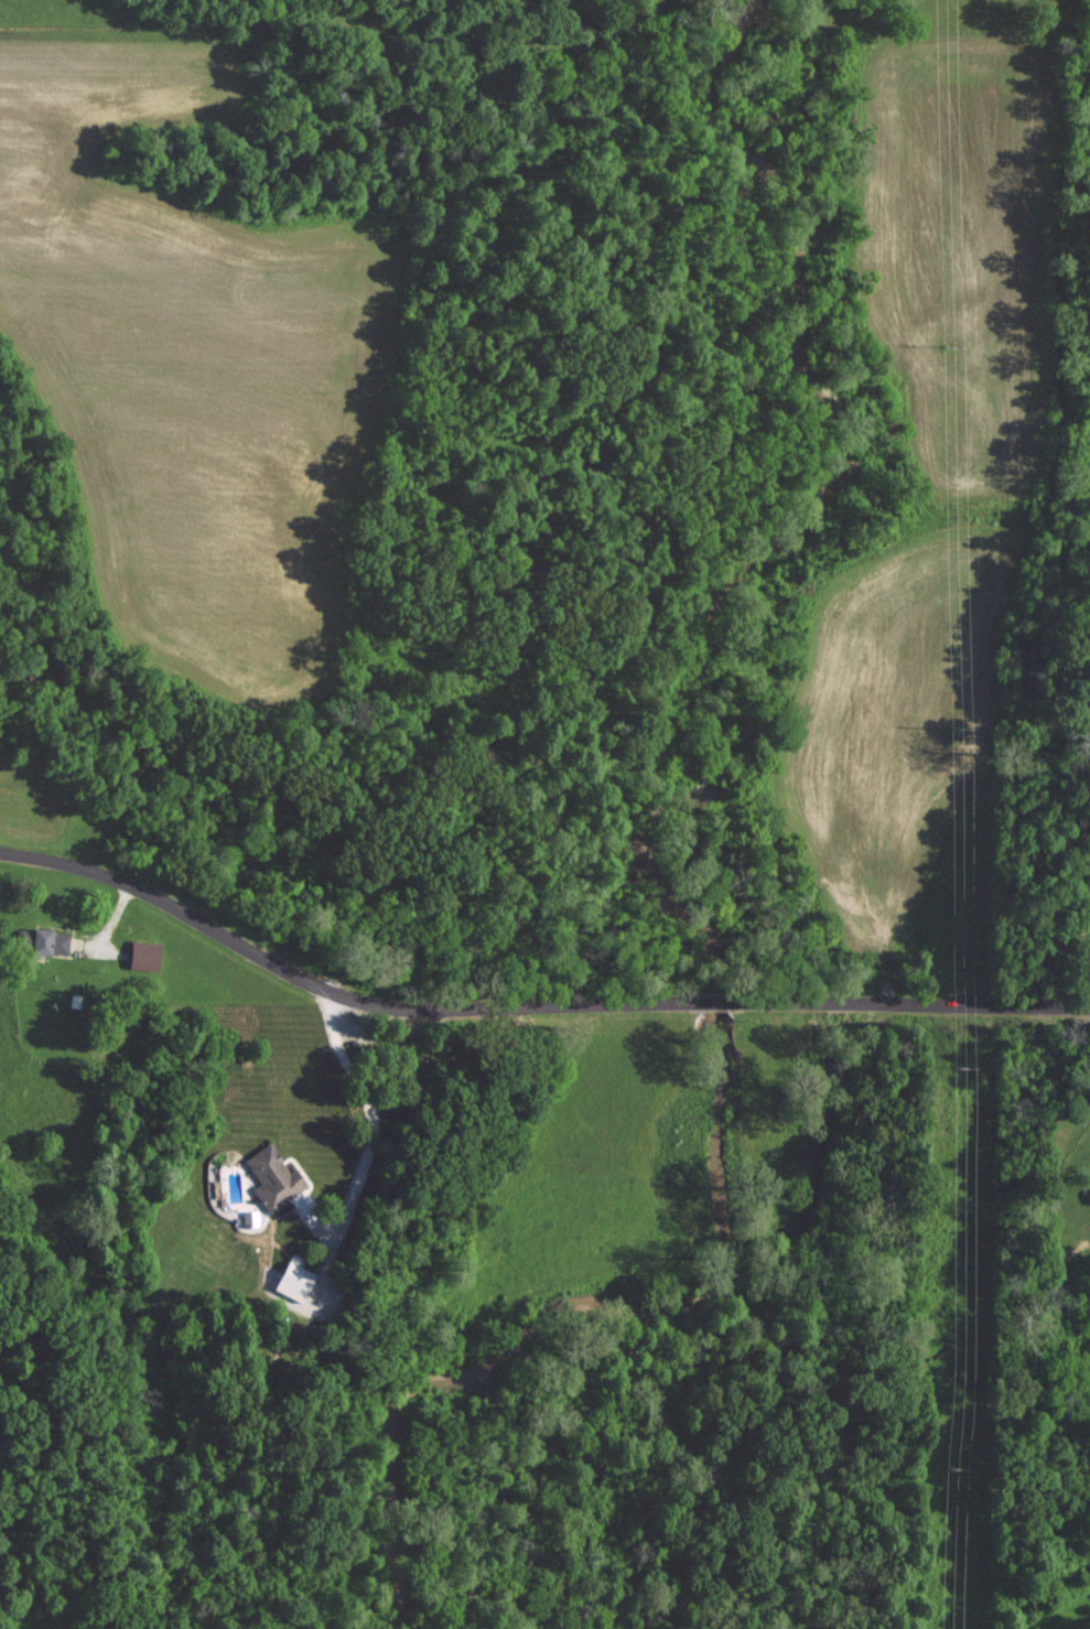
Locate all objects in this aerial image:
building: (46, 940)
building: (147, 954)
road: (527, 1011)
road: (374, 1126)
building: (277, 1177)
building: (298, 1280)

